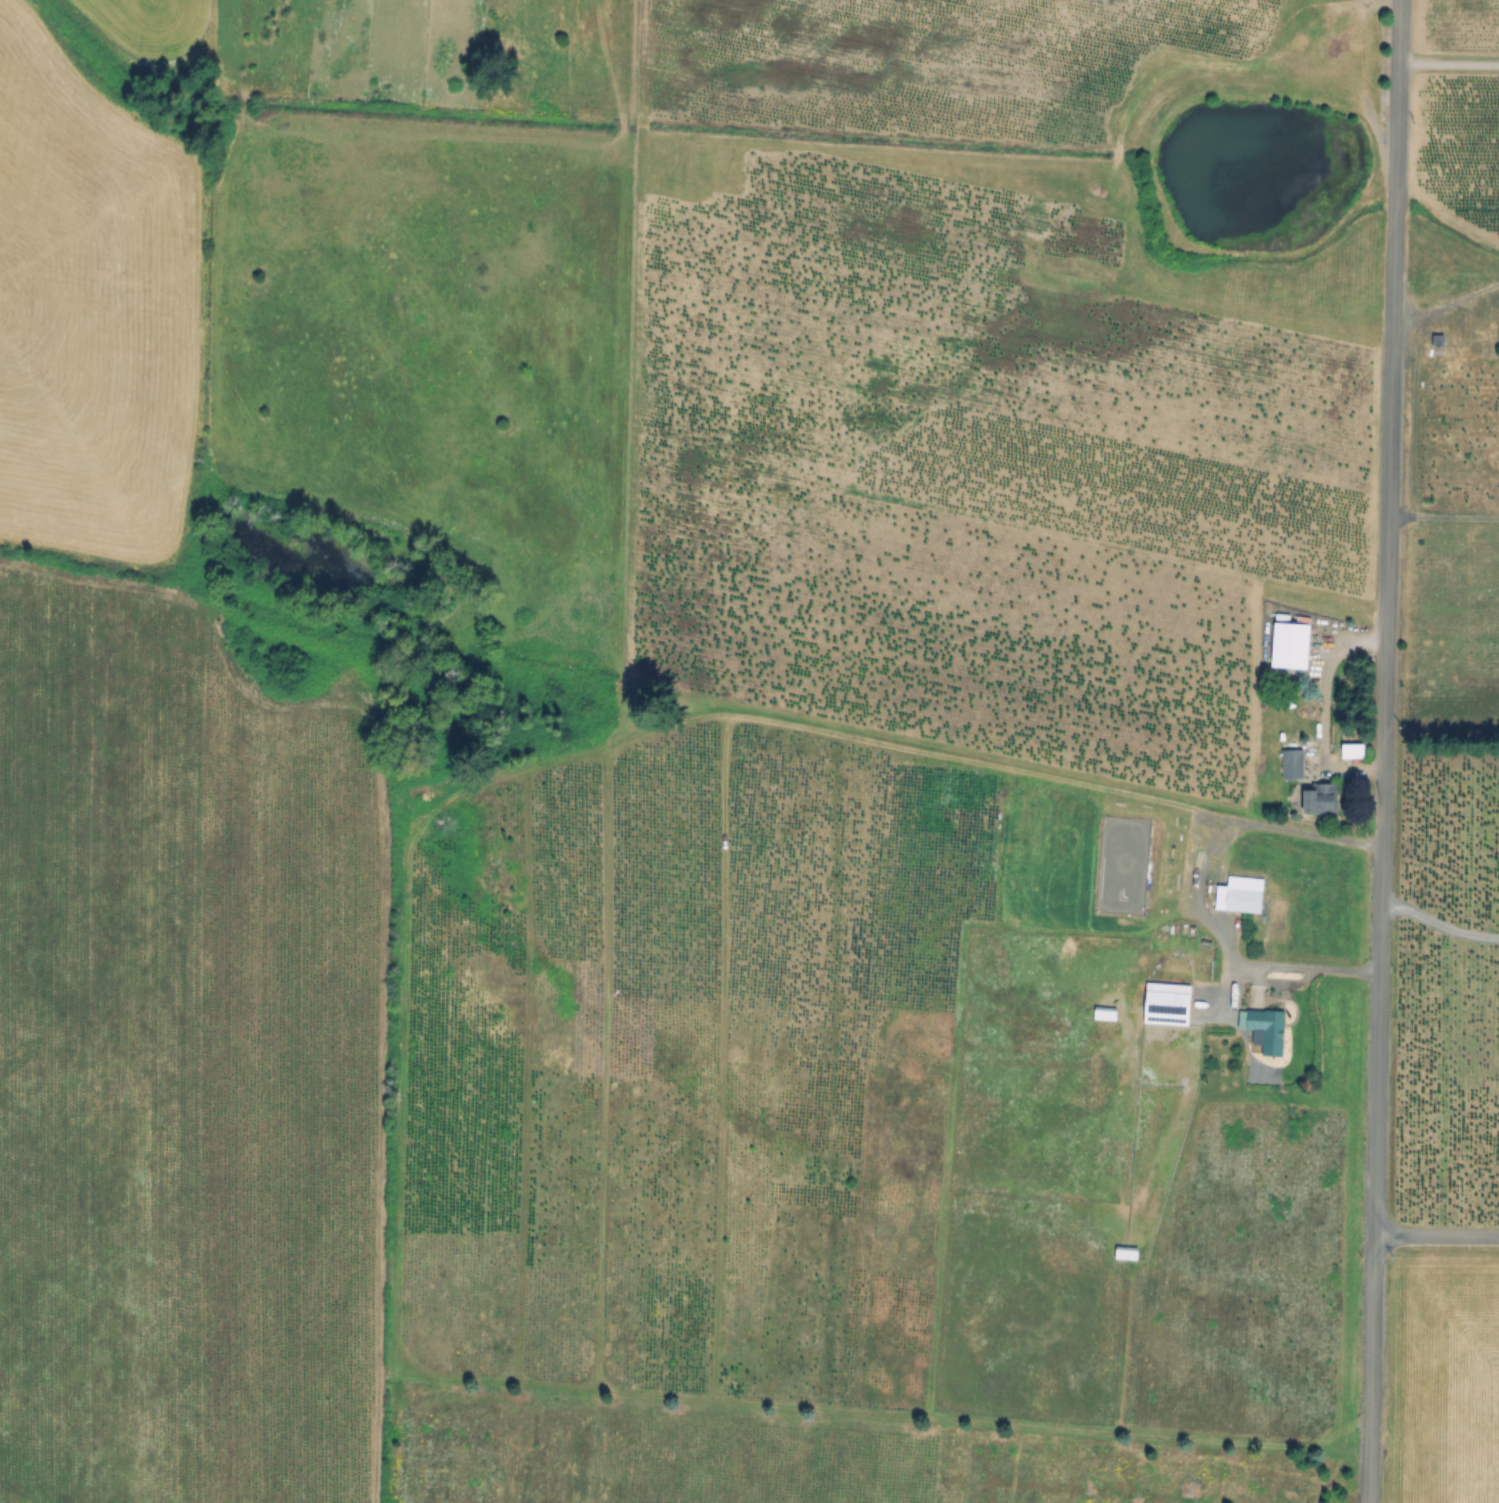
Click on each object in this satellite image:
road: (1450, 63)
road: (1447, 289)
road: (1445, 509)
building: (1291, 645)
road: (1318, 710)
road: (1387, 751)
building: (1294, 764)
building: (1321, 799)
road: (1191, 888)
building: (1240, 895)
building: (1278, 918)
road: (1441, 925)
building: (1168, 1003)
building: (1106, 1013)
building: (1266, 1028)
road: (1438, 1236)
building: (1127, 1253)

